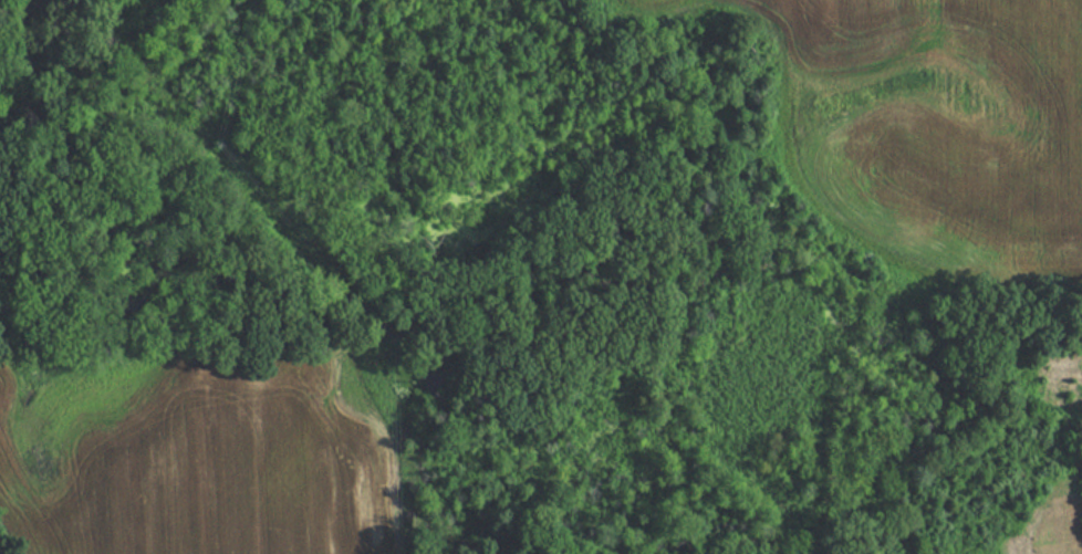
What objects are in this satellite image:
crop: (173, 458)

